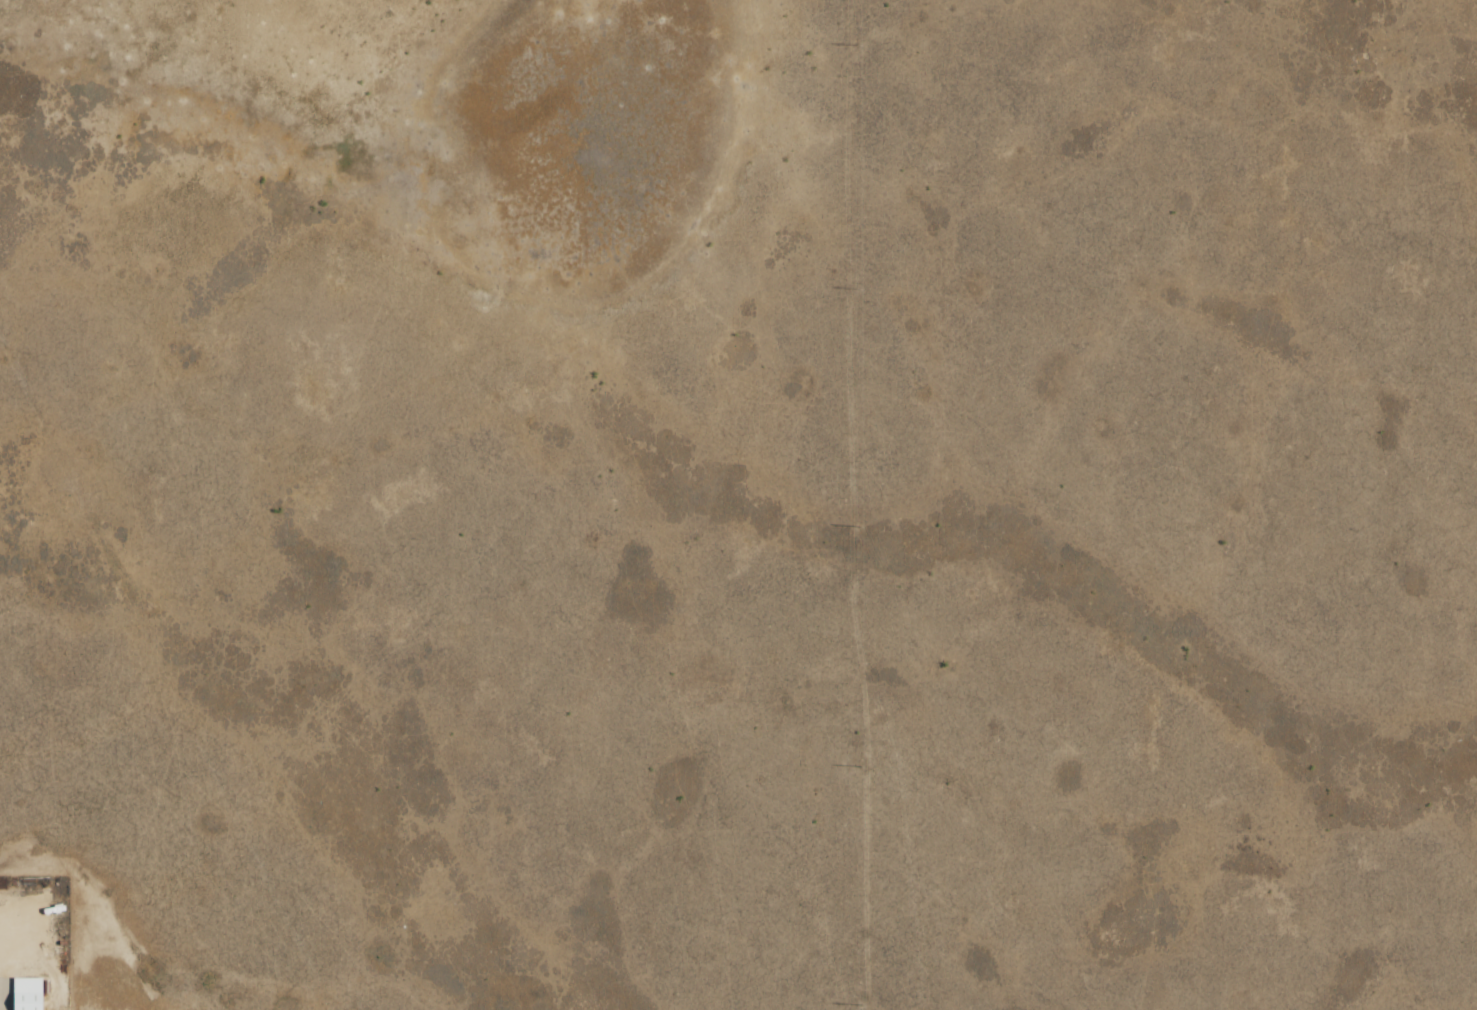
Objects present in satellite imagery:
building: (25, 993)

